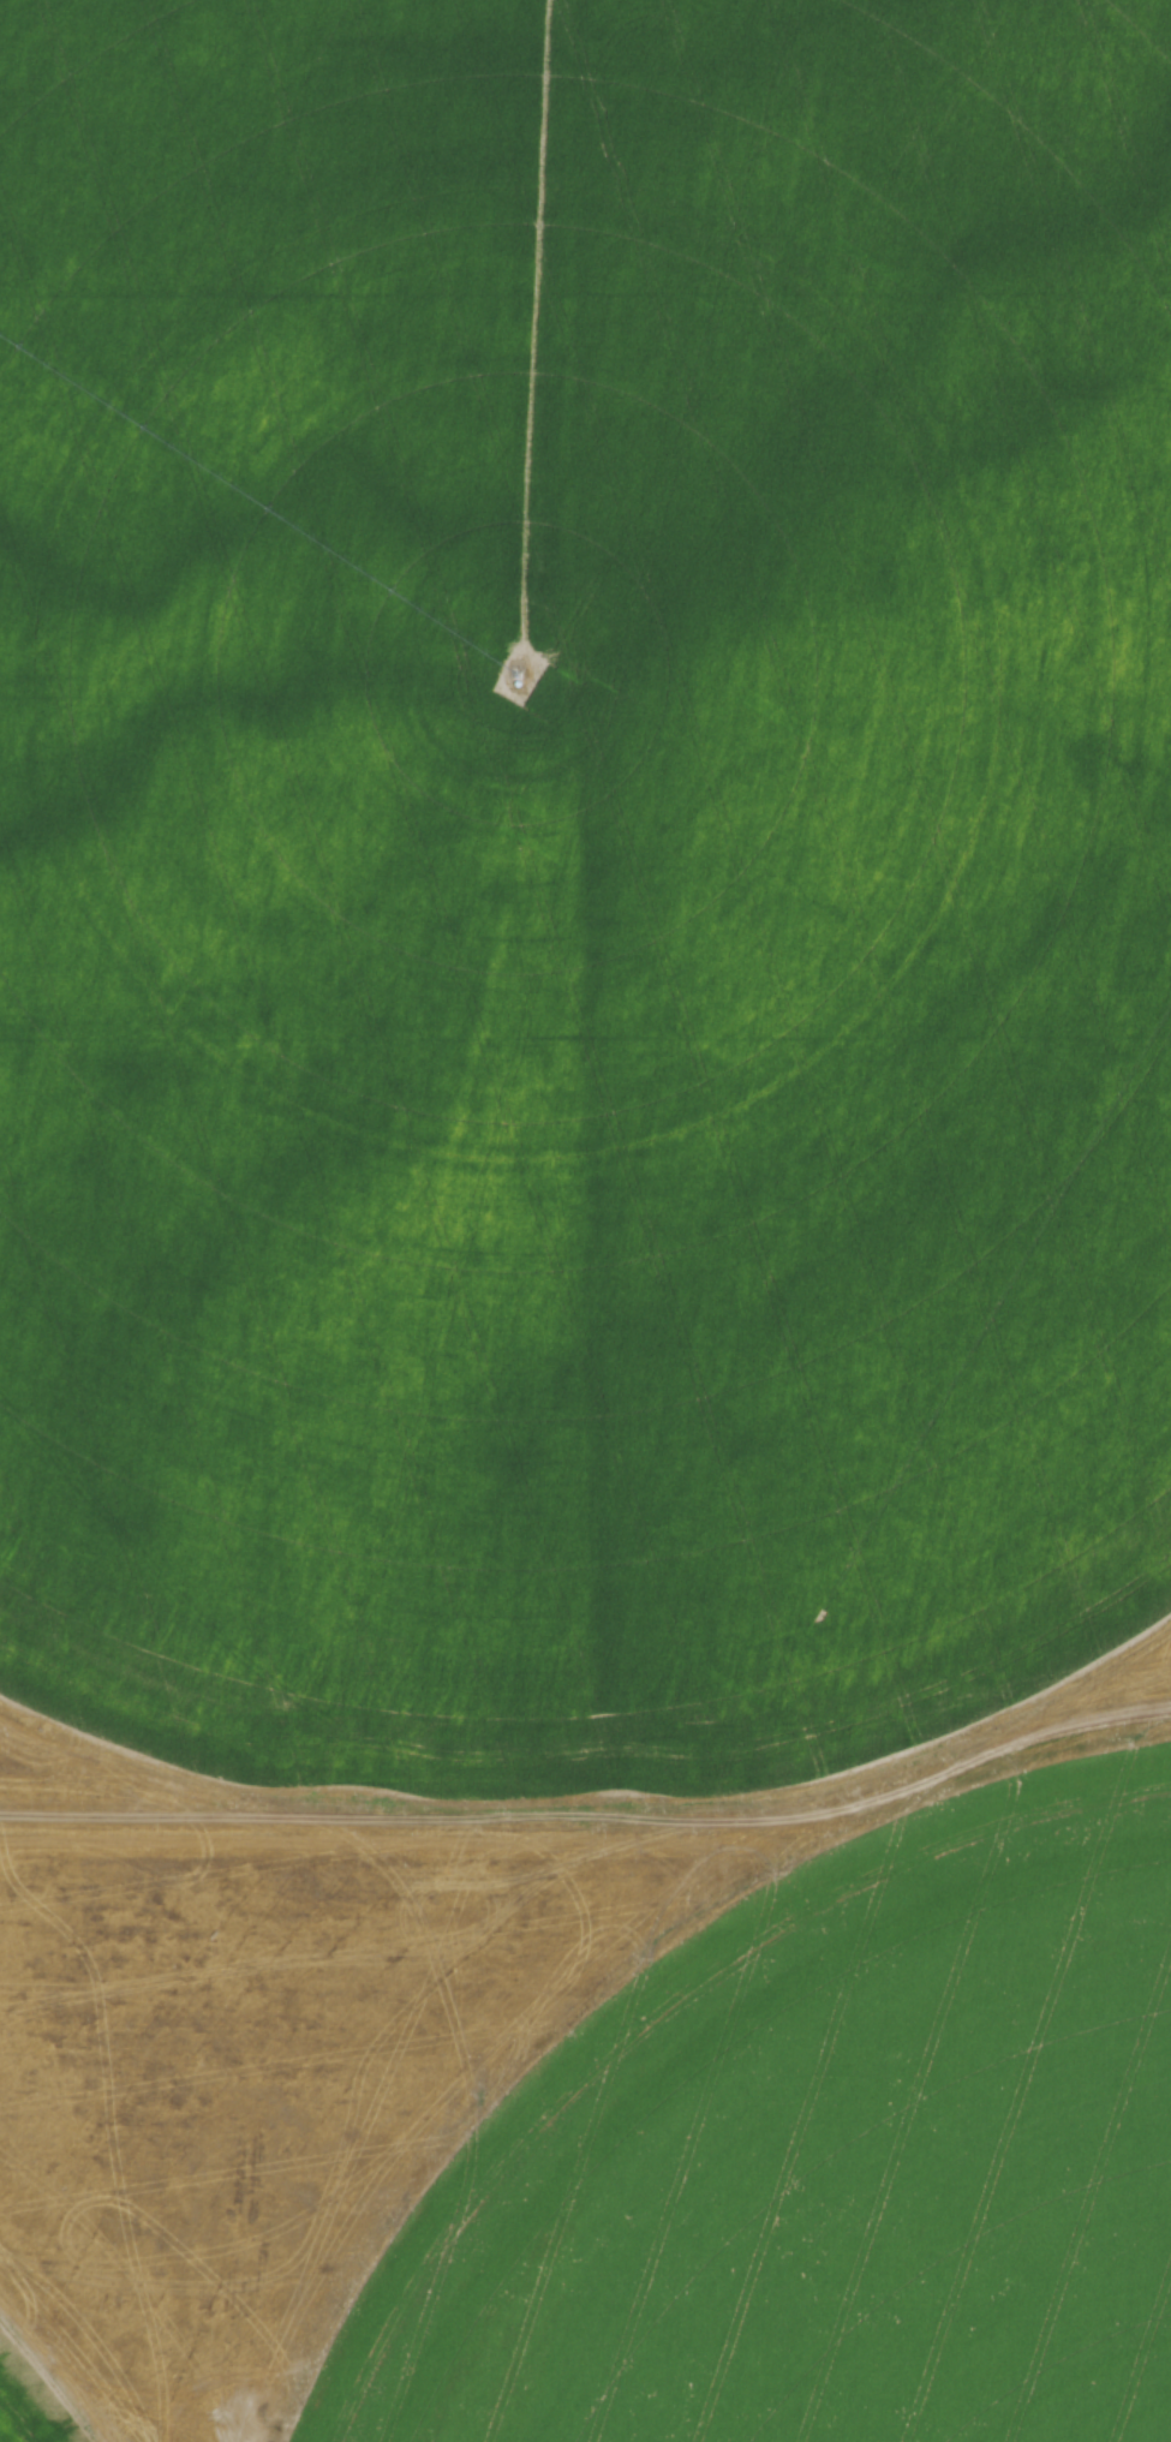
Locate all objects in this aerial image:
road: (593, 1807)

